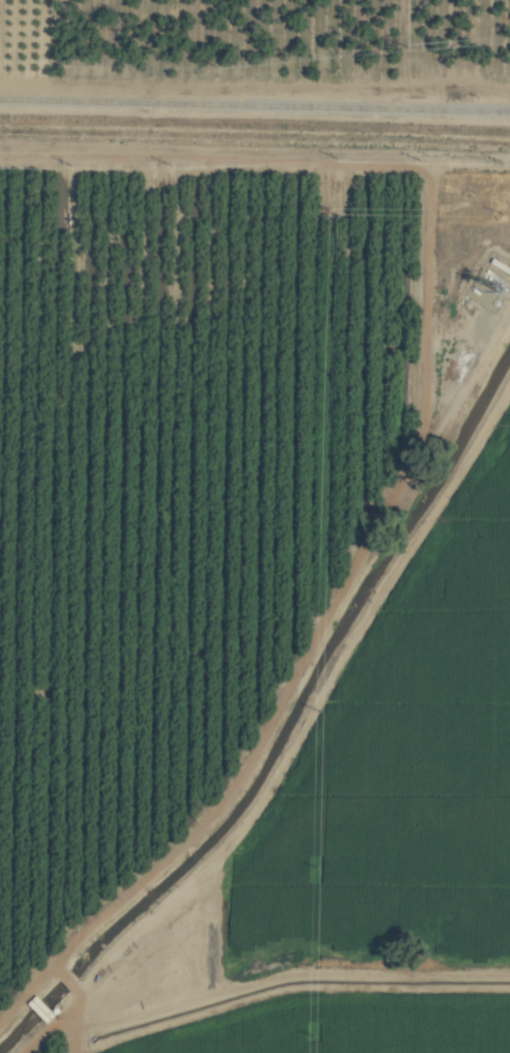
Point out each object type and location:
railway: (254, 106)
crop: (254, 526)

